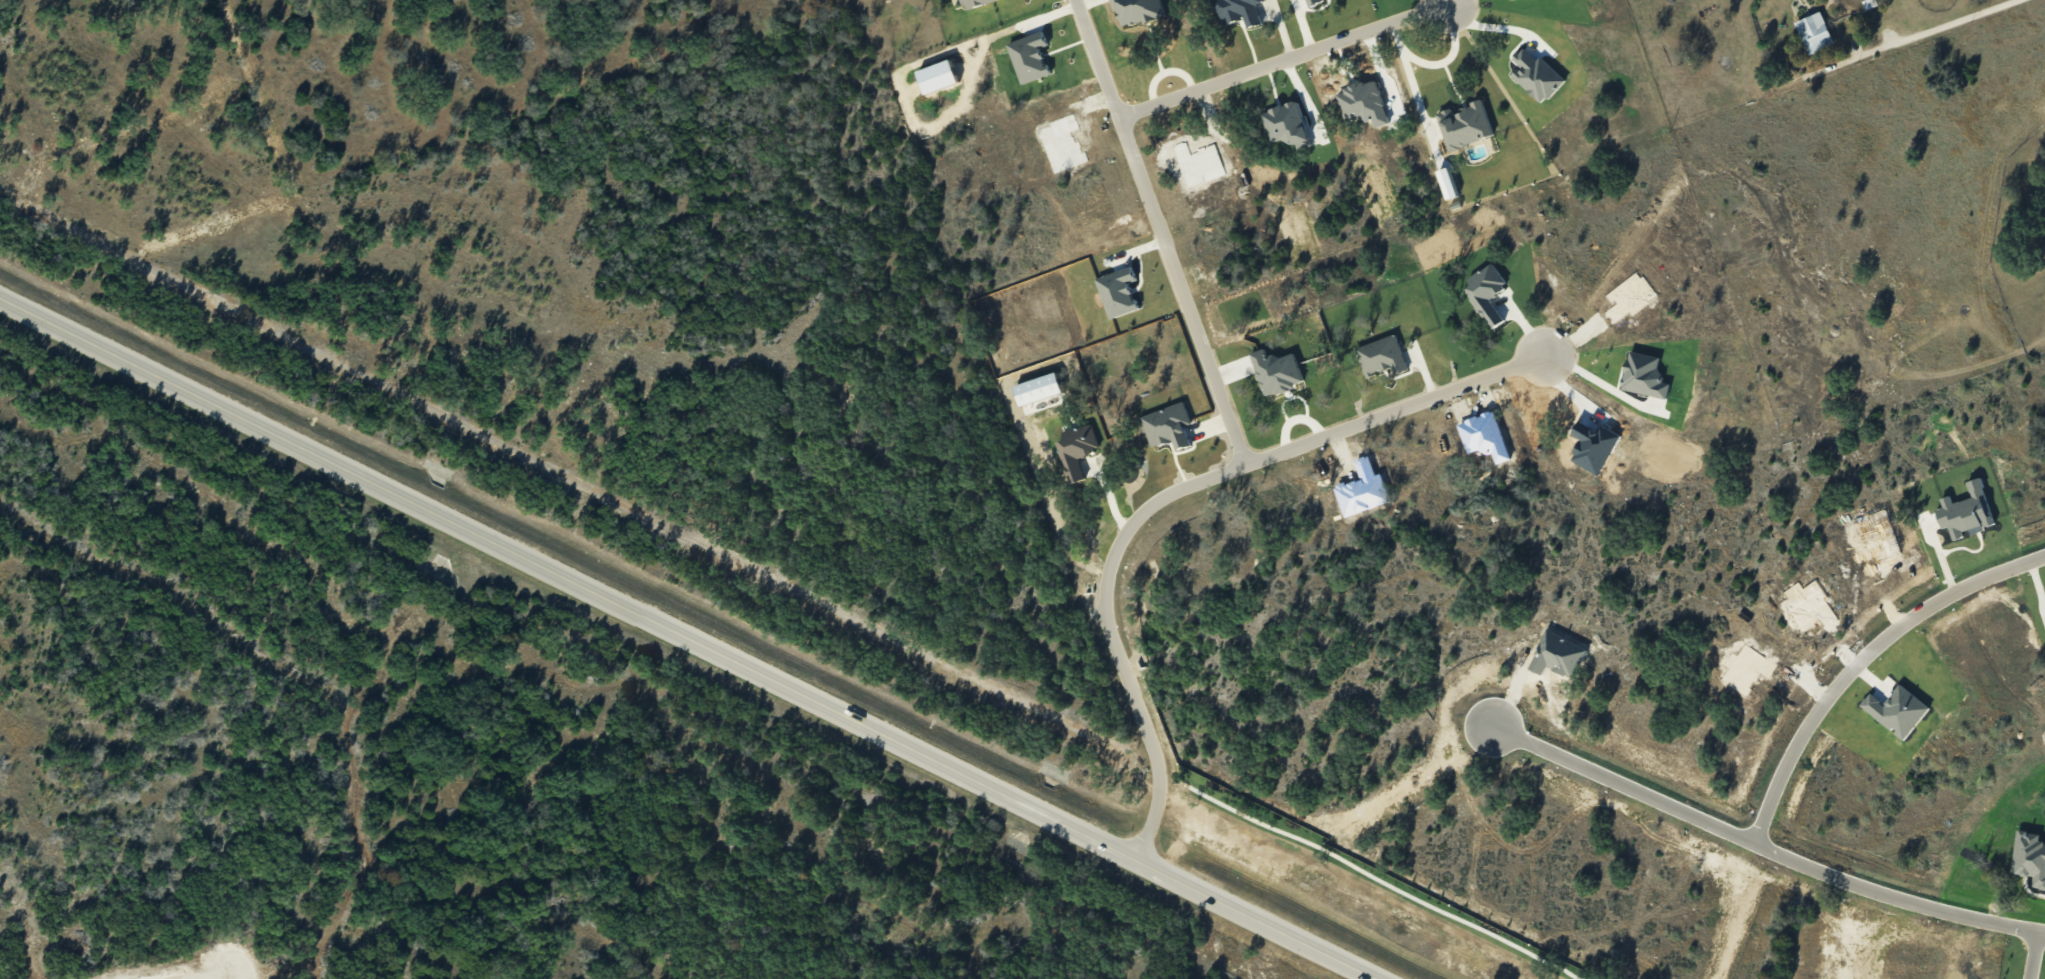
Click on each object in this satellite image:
road: (1450, 0)
road: (1450, 0)
road: (1451, 0)
building: (974, 3)
building: (1136, 11)
building: (1238, 11)
road: (1496, 20)
building: (1813, 32)
road: (1902, 40)
road: (1284, 59)
road: (1438, 61)
building: (1464, 125)
road: (1160, 232)
building: (1381, 355)
road: (1596, 382)
building: (1167, 426)
building: (1076, 450)
road: (1167, 493)
road: (144, 586)
road: (691, 636)
road: (1865, 649)
road: (277, 784)
road: (1766, 832)
road: (2037, 948)

